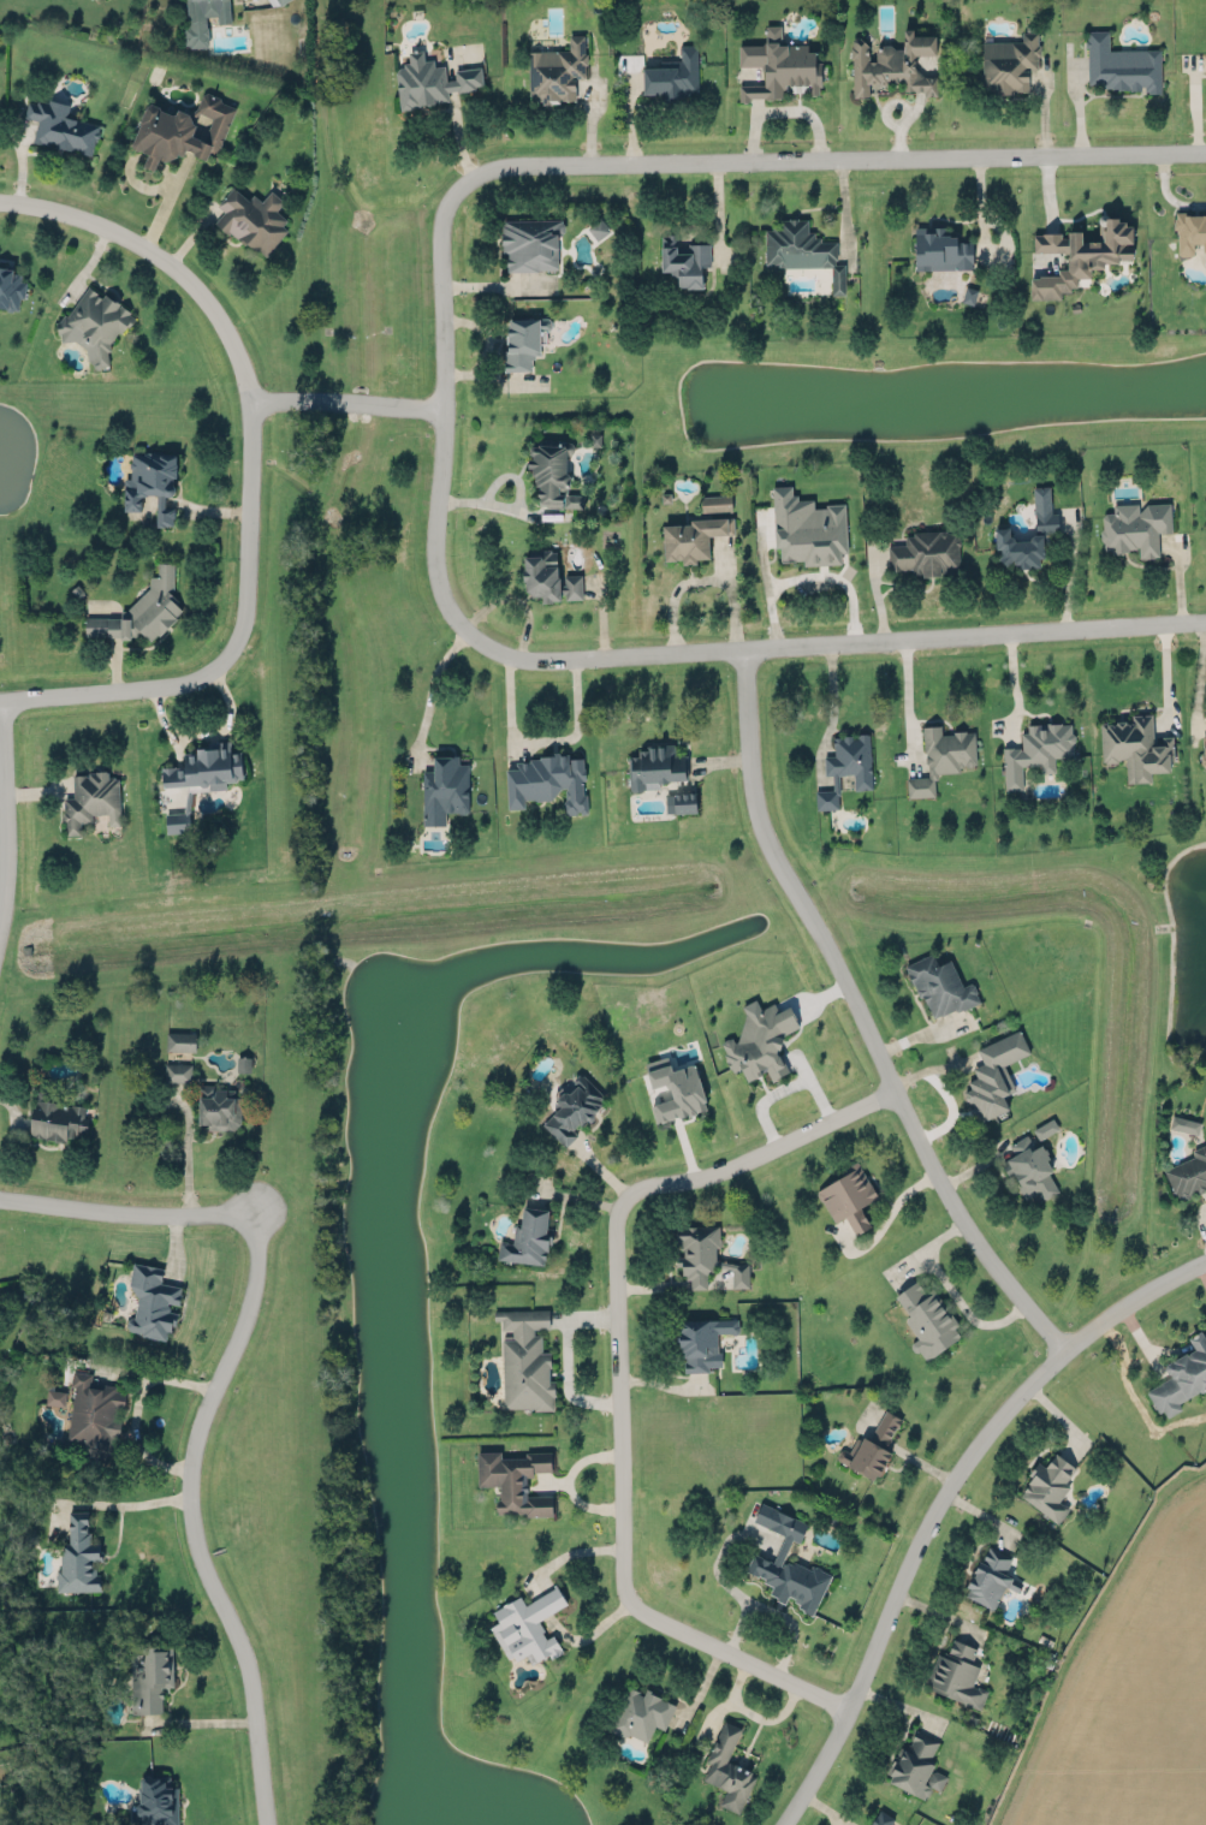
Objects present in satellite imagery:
building: (281, 1)
building: (202, 19)
building: (893, 61)
building: (1008, 61)
building: (1205, 61)
building: (1122, 65)
building: (779, 66)
building: (557, 69)
building: (673, 75)
building: (430, 79)
road: (905, 108)
road: (784, 109)
building: (61, 125)
building: (182, 130)
road: (848, 161)
road: (1168, 195)
building: (254, 216)
building: (598, 228)
building: (1190, 232)
building: (531, 240)
building: (801, 246)
building: (940, 248)
building: (1081, 252)
building: (683, 258)
building: (11, 287)
building: (94, 323)
building: (524, 340)
road: (242, 373)
road: (444, 378)
road: (344, 404)
building: (551, 470)
building: (152, 483)
building: (574, 499)
building: (717, 503)
building: (807, 527)
building: (1047, 528)
building: (1135, 528)
building: (693, 537)
building: (925, 553)
road: (1070, 573)
building: (548, 576)
road: (808, 576)
road: (703, 579)
building: (142, 611)
road: (814, 644)
road: (1164, 677)
road: (1199, 680)
road: (432, 684)
road: (103, 691)
road: (909, 695)
road: (832, 699)
road: (546, 738)
building: (1136, 745)
building: (1036, 750)
building: (1204, 750)
building: (941, 757)
building: (654, 765)
building: (845, 767)
building: (200, 775)
building: (548, 780)
building: (444, 789)
building: (90, 799)
building: (681, 802)
road: (0, 806)
building: (940, 986)
road: (861, 1015)
building: (759, 1039)
building: (180, 1041)
building: (243, 1064)
building: (178, 1071)
building: (994, 1074)
road: (784, 1088)
building: (676, 1089)
building: (219, 1107)
building: (572, 1107)
building: (57, 1117)
building: (1184, 1124)
building: (1045, 1128)
building: (1029, 1167)
building: (1188, 1173)
building: (849, 1196)
road: (884, 1219)
road: (1199, 1223)
building: (528, 1237)
building: (705, 1255)
road: (950, 1291)
building: (152, 1301)
building: (927, 1319)
road: (240, 1336)
building: (702, 1342)
road: (568, 1359)
building: (525, 1360)
road: (620, 1375)
building: (1182, 1378)
building: (55, 1397)
road: (136, 1405)
building: (95, 1415)
building: (871, 1447)
building: (515, 1480)
road: (568, 1480)
building: (1048, 1486)
road: (941, 1500)
road: (125, 1502)
building: (78, 1557)
building: (788, 1563)
building: (991, 1577)
building: (527, 1625)
building: (957, 1675)
building: (149, 1676)
building: (641, 1713)
road: (204, 1722)
road: (260, 1755)
building: (916, 1765)
building: (729, 1768)
building: (156, 1801)
building: (883, 1819)

